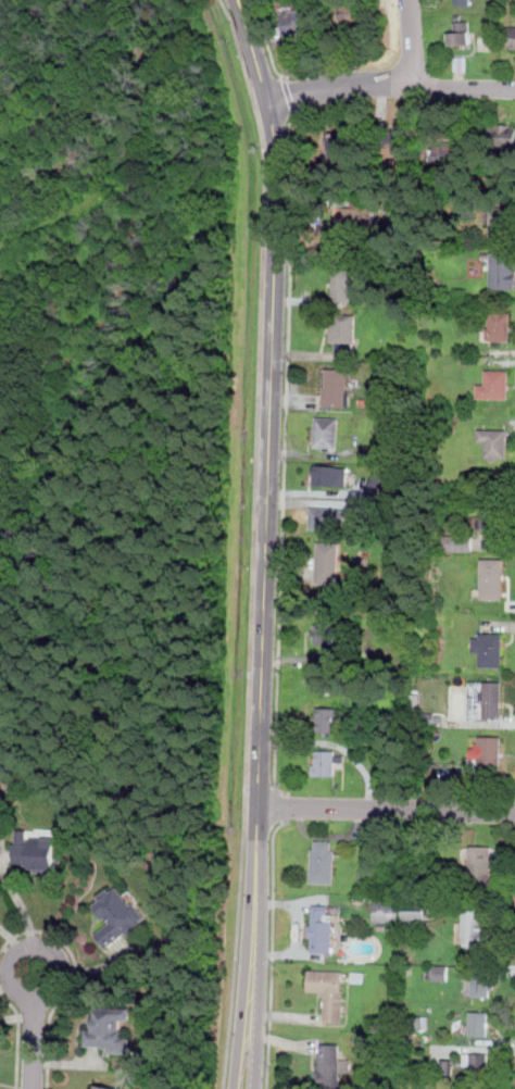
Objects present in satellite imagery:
building: (464, 2)
building: (356, 12)
building: (298, 21)
building: (461, 34)
building: (513, 39)
road: (411, 41)
road: (390, 83)
building: (505, 135)
building: (395, 140)
building: (340, 143)
building: (448, 151)
building: (467, 203)
building: (359, 213)
building: (500, 221)
building: (503, 270)
building: (342, 286)
building: (498, 325)
building: (343, 331)
building: (494, 385)
building: (336, 386)
road: (287, 395)
road: (272, 413)
building: (327, 431)
building: (494, 441)
building: (372, 452)
building: (331, 475)
building: (491, 515)
building: (328, 517)
road: (254, 541)
building: (459, 542)
building: (327, 563)
building: (493, 578)
building: (323, 634)
building: (489, 647)
building: (487, 700)
building: (328, 718)
building: (490, 751)
building: (325, 762)
road: (282, 806)
road: (386, 808)
building: (37, 852)
building: (324, 861)
building: (481, 864)
building: (388, 909)
road: (18, 911)
building: (415, 913)
building: (116, 914)
building: (322, 927)
building: (477, 927)
road: (9, 939)
road: (273, 952)
road: (246, 960)
road: (262, 960)
road: (97, 965)
building: (441, 972)
road: (74, 982)
building: (483, 984)
road: (5, 985)
building: (329, 992)
road: (34, 996)
road: (17, 1018)
building: (479, 1023)
building: (109, 1029)
road: (16, 1037)
road: (33, 1042)
road: (66, 1061)
building: (477, 1064)
building: (329, 1065)
road: (8, 1084)
building: (105, 1087)

